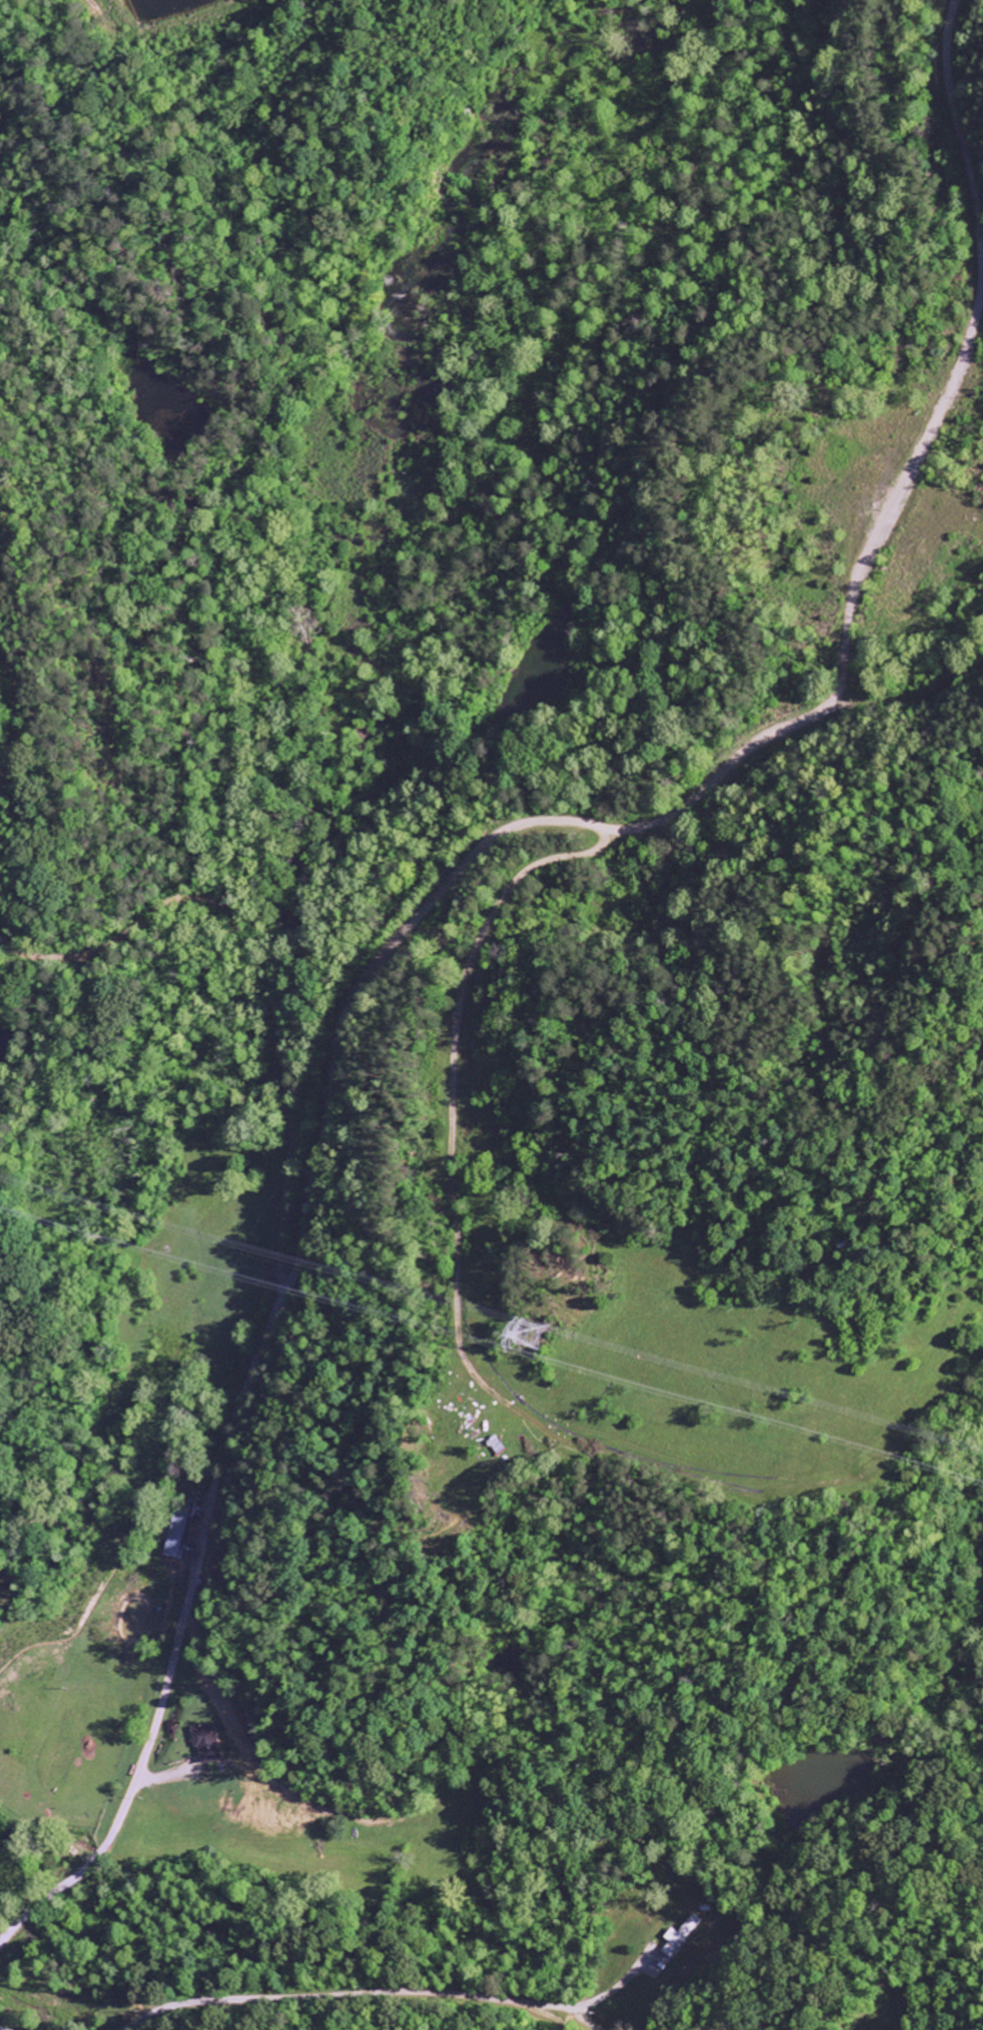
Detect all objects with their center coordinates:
road: (621, 808)
road: (306, 1207)
power tower: (525, 1338)
building: (214, 1742)
road: (369, 1993)

